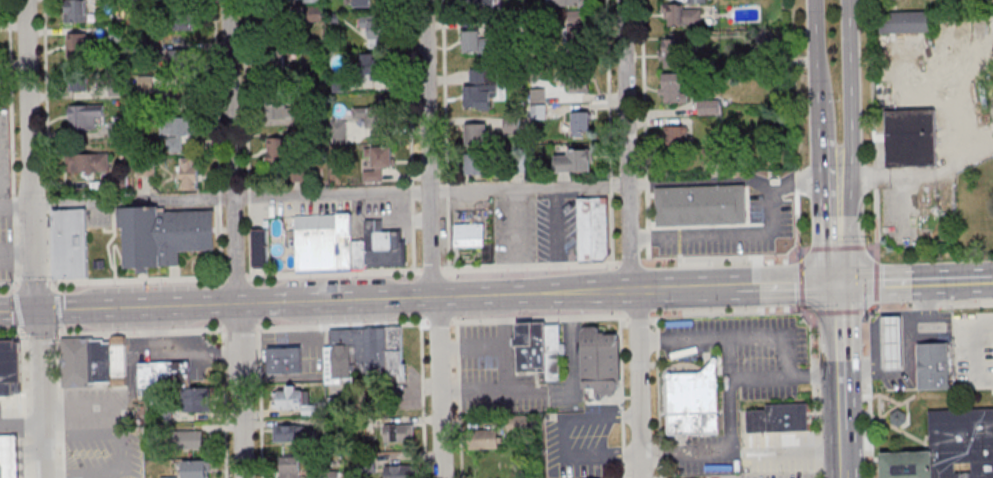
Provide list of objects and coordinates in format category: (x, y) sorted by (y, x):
building: (312, 1)
building: (696, 1)
building: (360, 2)
building: (570, 2)
building: (478, 7)
building: (76, 10)
building: (680, 16)
building: (272, 17)
building: (183, 18)
building: (905, 24)
building: (375, 28)
building: (573, 34)
building: (77, 42)
building: (476, 43)
road: (821, 50)
building: (674, 51)
building: (181, 59)
building: (274, 59)
building: (375, 66)
building: (79, 80)
building: (574, 81)
building: (146, 83)
road: (872, 83)
road: (793, 85)
building: (183, 87)
building: (674, 87)
building: (479, 88)
road: (853, 89)
road: (216, 95)
road: (246, 95)
road: (947, 97)
road: (11, 98)
road: (46, 99)
building: (537, 103)
building: (708, 107)
building: (281, 109)
building: (85, 115)
building: (370, 117)
building: (580, 123)
building: (510, 126)
park: (937, 126)
building: (114, 129)
road: (608, 131)
road: (645, 131)
building: (177, 132)
building: (477, 133)
road: (410, 134)
road: (445, 134)
building: (675, 137)
building: (910, 139)
road: (826, 140)
building: (280, 152)
road: (34, 155)
parking lot: (4, 157)
road: (969, 159)
building: (572, 161)
building: (90, 163)
building: (379, 163)
building: (476, 165)
building: (189, 173)
road: (893, 176)
road: (875, 177)
road: (796, 180)
road: (420, 193)
road: (249, 196)
road: (219, 197)
road: (14, 206)
building: (709, 206)
road: (49, 211)
road: (876, 222)
road: (799, 224)
parking lot: (536, 228)
road: (15, 229)
building: (592, 229)
parking lot: (738, 230)
road: (841, 232)
building: (162, 236)
building: (469, 237)
road: (249, 238)
road: (235, 239)
road: (431, 239)
road: (630, 239)
road: (220, 240)
road: (558, 240)
building: (324, 241)
road: (516, 242)
building: (69, 245)
road: (872, 245)
building: (383, 247)
road: (736, 247)
road: (839, 247)
building: (258, 249)
parking lot: (6, 250)
road: (15, 252)
road: (19, 255)
building: (358, 255)
road: (50, 256)
road: (627, 263)
road: (431, 269)
road: (692, 269)
road: (332, 271)
road: (16, 275)
road: (236, 275)
road: (137, 278)
road: (801, 281)
road: (992, 281)
road: (33, 283)
road: (877, 283)
road: (916, 284)
road: (8, 285)
traffic signals: (841, 287)
road: (790, 288)
road: (705, 289)
road: (634, 290)
road: (417, 297)
road: (928, 305)
road: (139, 307)
road: (57, 309)
road: (17, 311)
road: (21, 311)
traffic signals: (42, 311)
road: (839, 312)
road: (534, 318)
road: (239, 328)
road: (140, 332)
road: (841, 332)
road: (41, 335)
road: (12, 337)
road: (779, 338)
parking lot: (959, 340)
building: (552, 341)
building: (890, 341)
gas station: (890, 341)
road: (504, 342)
road: (471, 346)
building: (530, 348)
road: (978, 350)
parking lot: (750, 352)
building: (117, 357)
building: (363, 357)
building: (599, 360)
building: (99, 362)
building: (283, 362)
building: (76, 364)
road: (43, 365)
building: (933, 366)
building: (8, 370)
building: (166, 372)
parking lot: (495, 375)
road: (786, 379)
road: (843, 388)
road: (815, 389)
road: (484, 390)
road: (868, 394)
road: (927, 394)
building: (291, 396)
road: (730, 396)
road: (884, 396)
building: (195, 398)
road: (459, 399)
road: (423, 400)
road: (60, 403)
road: (260, 403)
building: (693, 403)
building: (341, 404)
road: (24, 405)
parking lot: (8, 416)
building: (899, 417)
road: (80, 418)
building: (786, 419)
road: (22, 420)
building: (755, 423)
road: (891, 424)
road: (843, 428)
building: (292, 433)
building: (397, 433)
road: (564, 437)
building: (192, 438)
building: (488, 439)
building: (962, 444)
road: (46, 448)
road: (122, 452)
parking lot: (104, 453)
road: (797, 453)
building: (9, 454)
parking lot: (777, 454)
parking lot: (700, 458)
building: (906, 465)
building: (289, 467)
road: (844, 467)
building: (196, 469)
building: (398, 471)
road: (23, 473)
building: (331, 475)
building: (168, 476)
parking lot: (775, 476)

